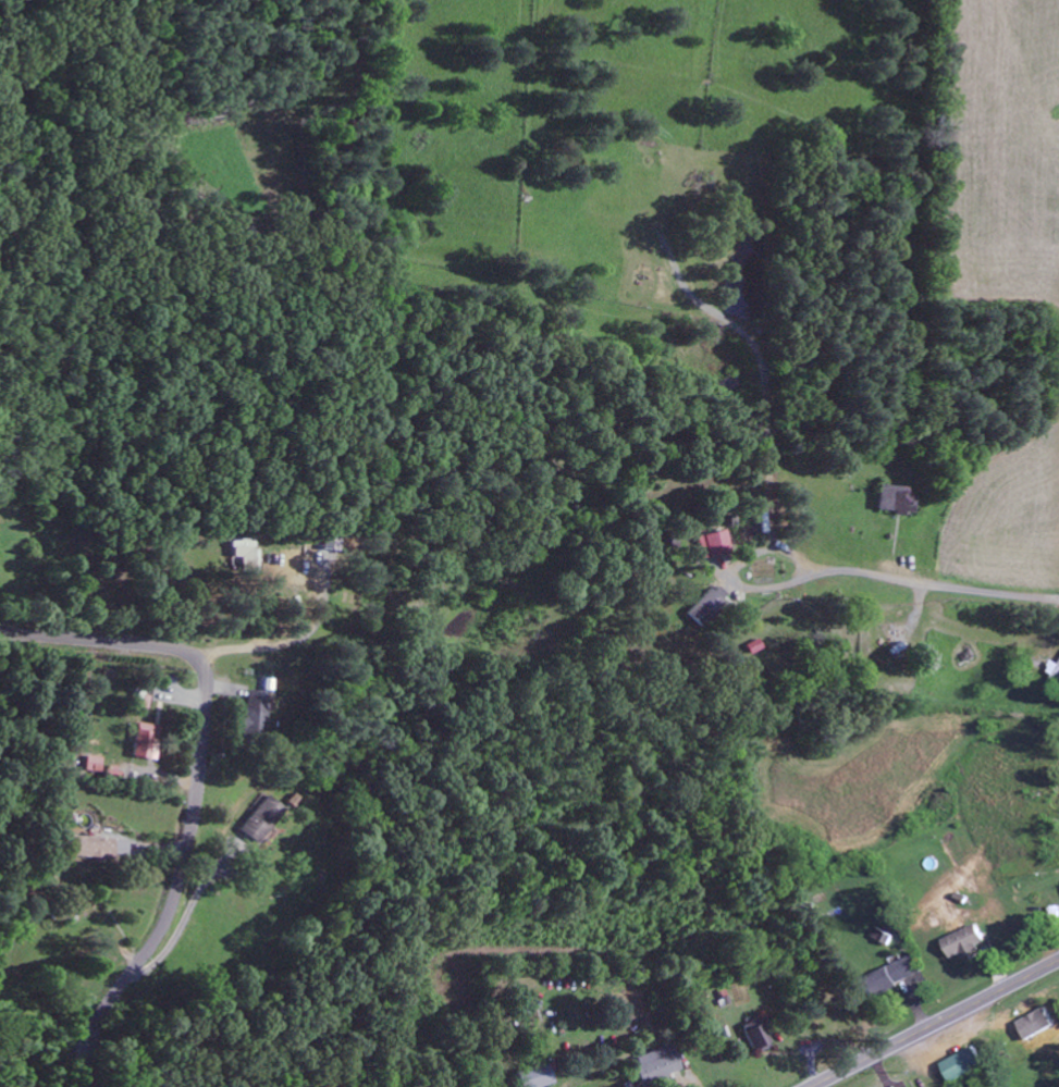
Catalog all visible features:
building: (895, 499)
building: (712, 544)
building: (244, 553)
building: (703, 607)
building: (1054, 676)
building: (253, 714)
building: (144, 741)
building: (91, 763)
road: (196, 783)
building: (260, 819)
building: (95, 848)
building: (963, 942)
building: (890, 976)
road: (935, 1023)
building: (1032, 1032)
building: (755, 1036)
building: (655, 1065)
building: (963, 1065)
building: (537, 1076)

